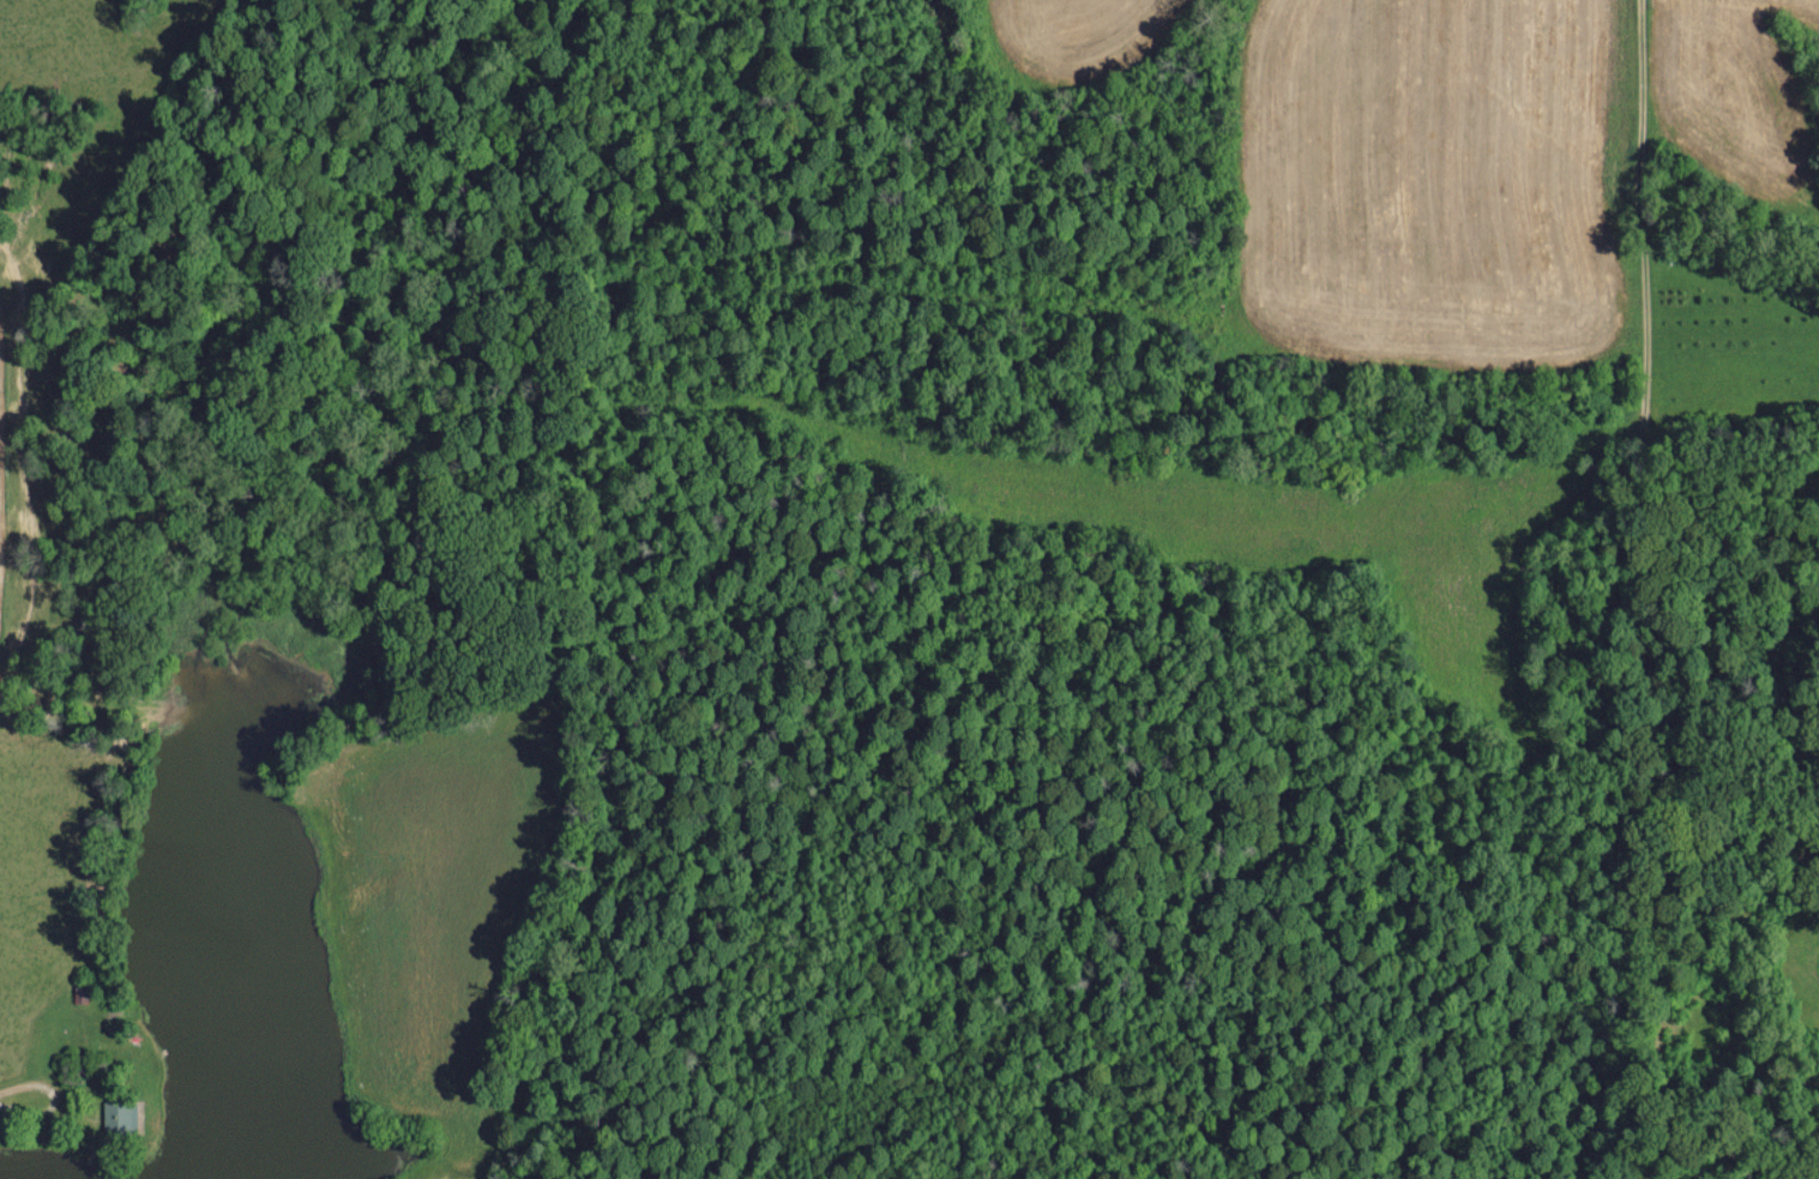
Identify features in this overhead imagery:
road: (1642, 330)
dam: (1815, 972)
road: (22, 1100)
building: (118, 1118)

